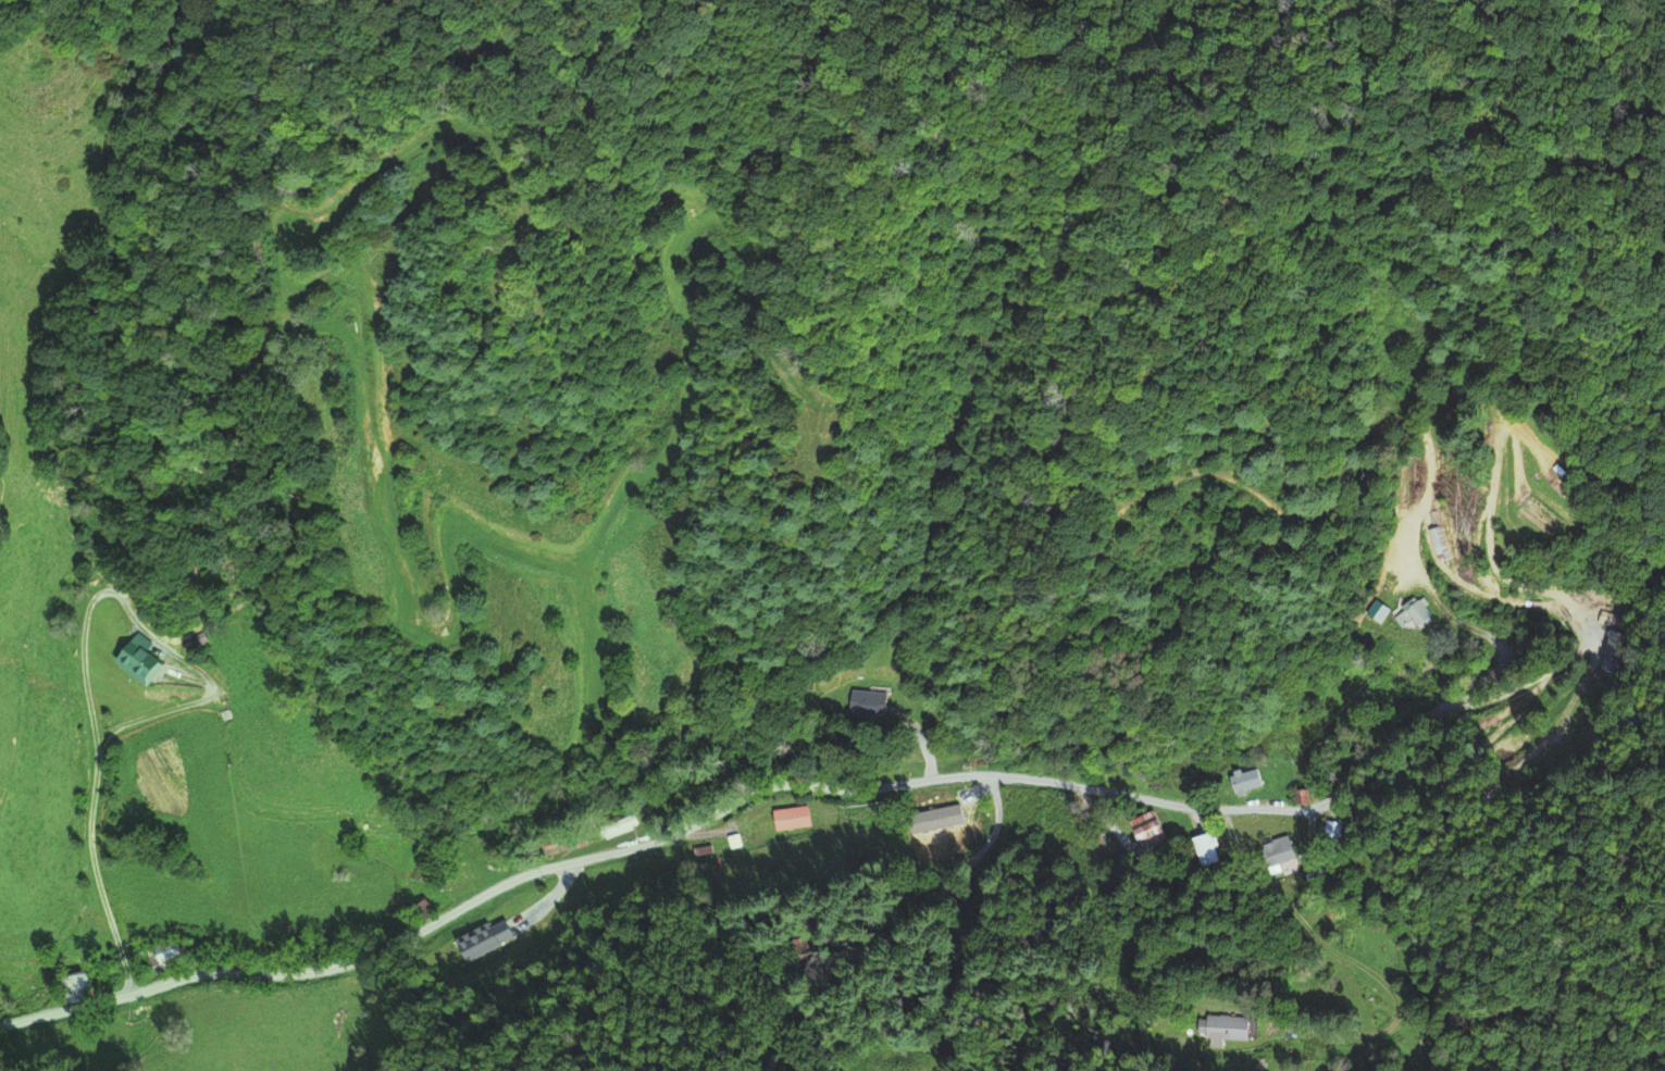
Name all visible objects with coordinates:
building: (1416, 618)
road: (1483, 677)
building: (866, 705)
road: (100, 743)
building: (1237, 782)
road: (808, 785)
building: (932, 815)
building: (790, 819)
building: (617, 829)
building: (1142, 834)
building: (1092, 839)
building: (1197, 850)
building: (1270, 852)
building: (424, 910)
road: (112, 925)
road: (898, 930)
building: (479, 941)
building: (174, 958)
road: (123, 966)
building: (71, 982)
building: (1219, 1030)

